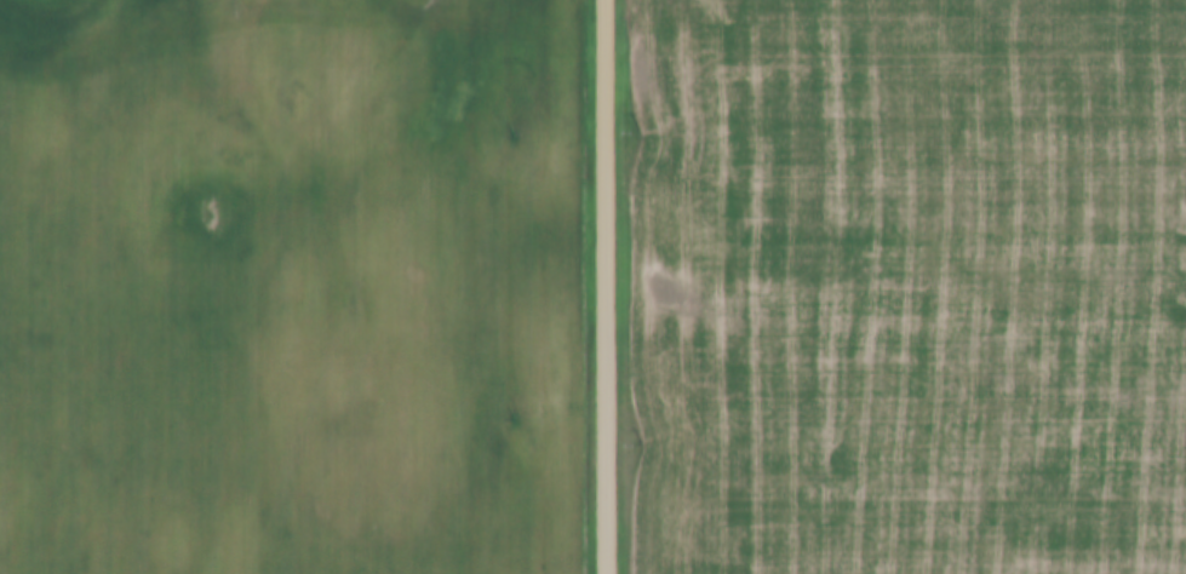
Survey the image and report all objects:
road: (607, 286)

